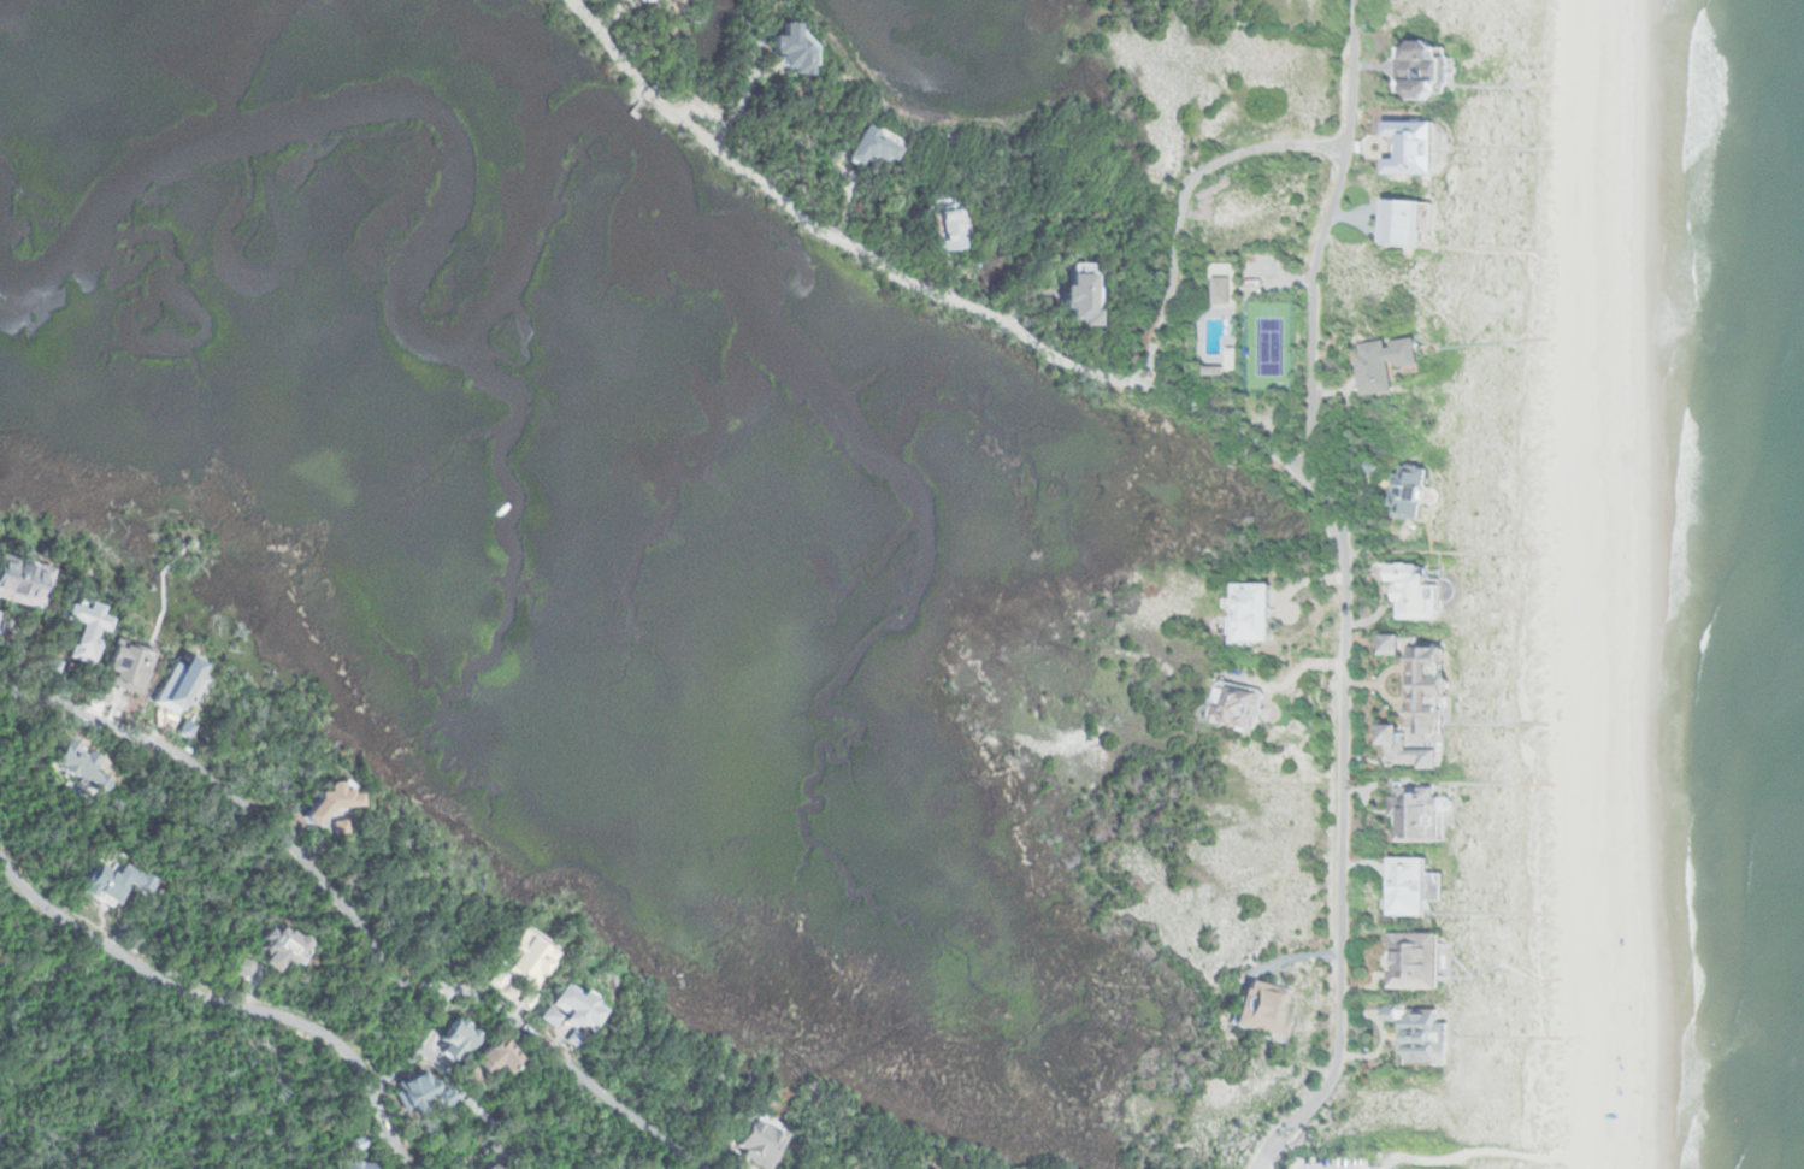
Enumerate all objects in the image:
building: (788, 51)
building: (1423, 70)
building: (867, 148)
road: (1184, 201)
building: (1407, 223)
building: (944, 229)
road: (1320, 238)
road: (914, 279)
building: (1222, 290)
building: (1077, 299)
building: (1386, 365)
building: (1215, 372)
building: (1411, 492)
building: (24, 584)
building: (1415, 591)
building: (1255, 614)
building: (83, 632)
building: (1368, 644)
building: (1392, 645)
building: (1398, 666)
building: (128, 667)
building: (49, 671)
building: (1431, 689)
building: (101, 698)
building: (1238, 705)
building: (1404, 752)
building: (75, 768)
building: (328, 799)
building: (1416, 811)
building: (340, 826)
road: (1340, 836)
building: (1414, 884)
road: (350, 922)
building: (278, 947)
building: (525, 957)
building: (1414, 958)
building: (241, 964)
building: (493, 978)
building: (525, 1002)
road: (222, 1003)
building: (578, 1006)
building: (1264, 1009)
building: (549, 1016)
building: (1420, 1033)
building: (452, 1037)
building: (573, 1039)
building: (489, 1061)
building: (764, 1136)
building: (352, 1141)
building: (494, 1146)
building: (350, 1164)
building: (520, 1165)
building: (489, 1167)
building: (473, 1168)
building: (916, 1168)

